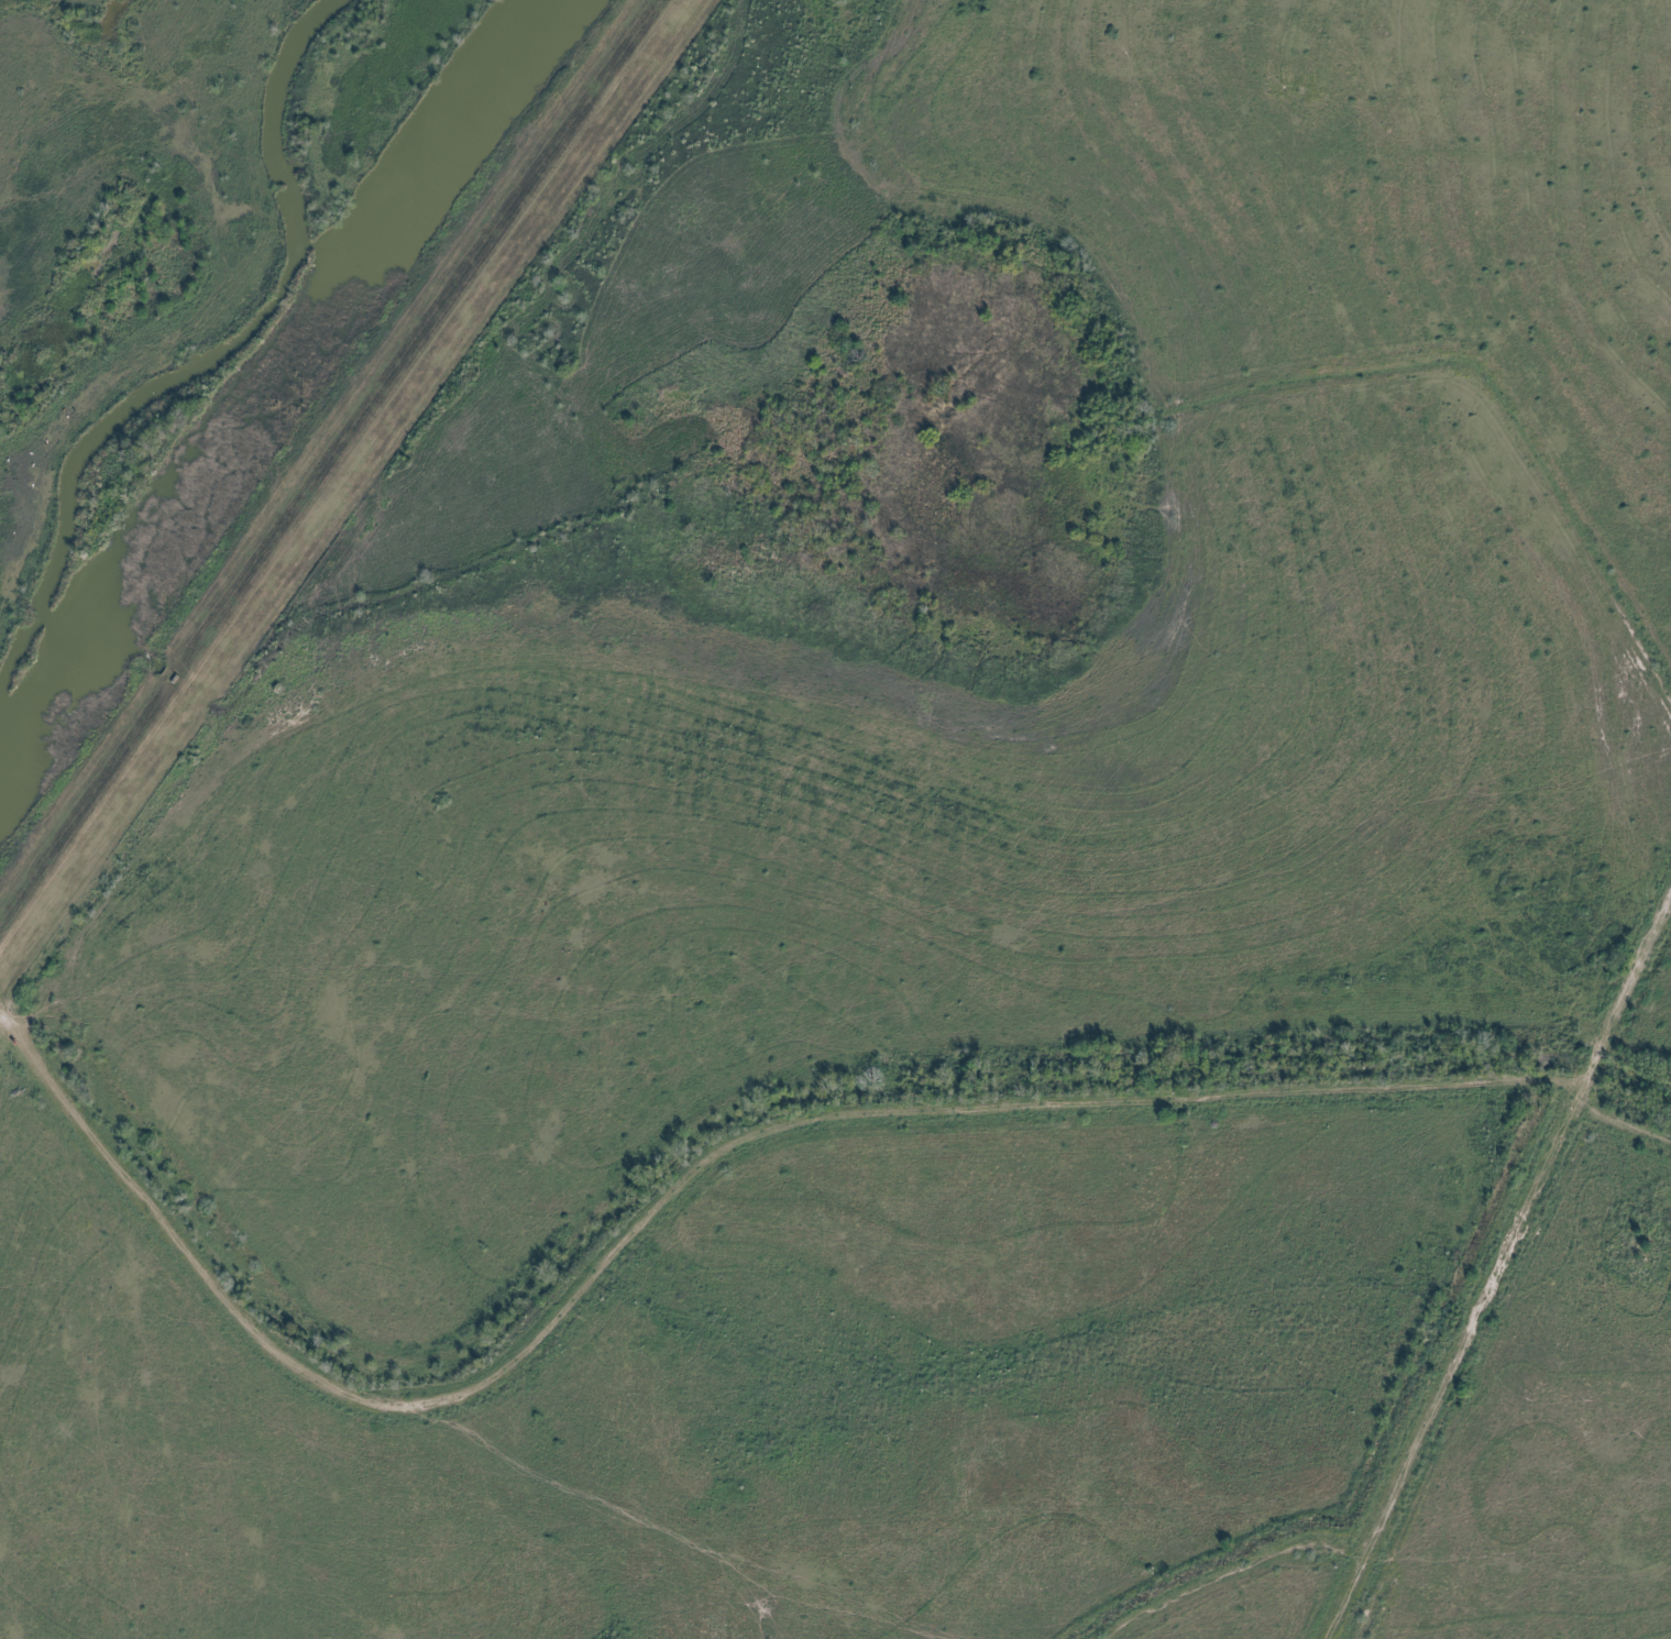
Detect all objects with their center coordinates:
road: (337, 475)
road: (711, 1157)
road: (1520, 1228)

